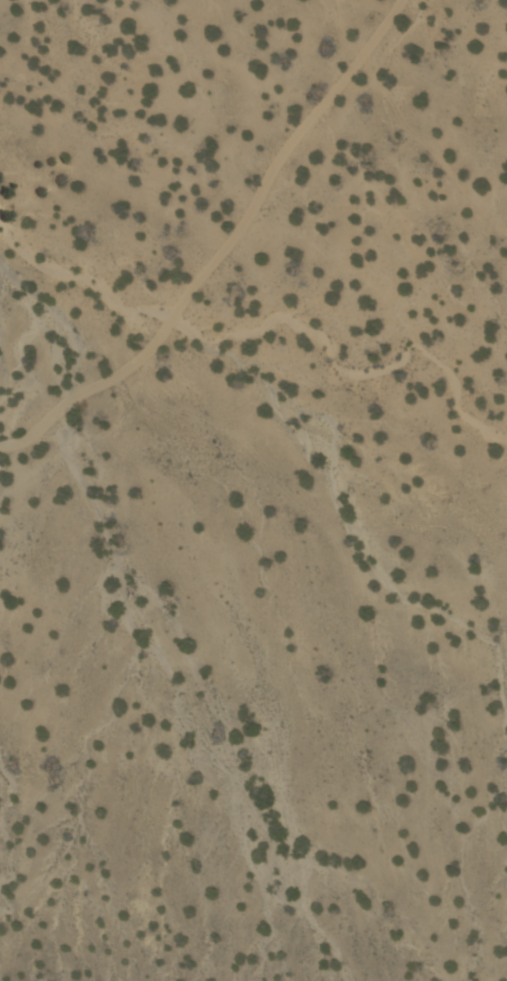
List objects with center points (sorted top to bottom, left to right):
road: (242, 270)

